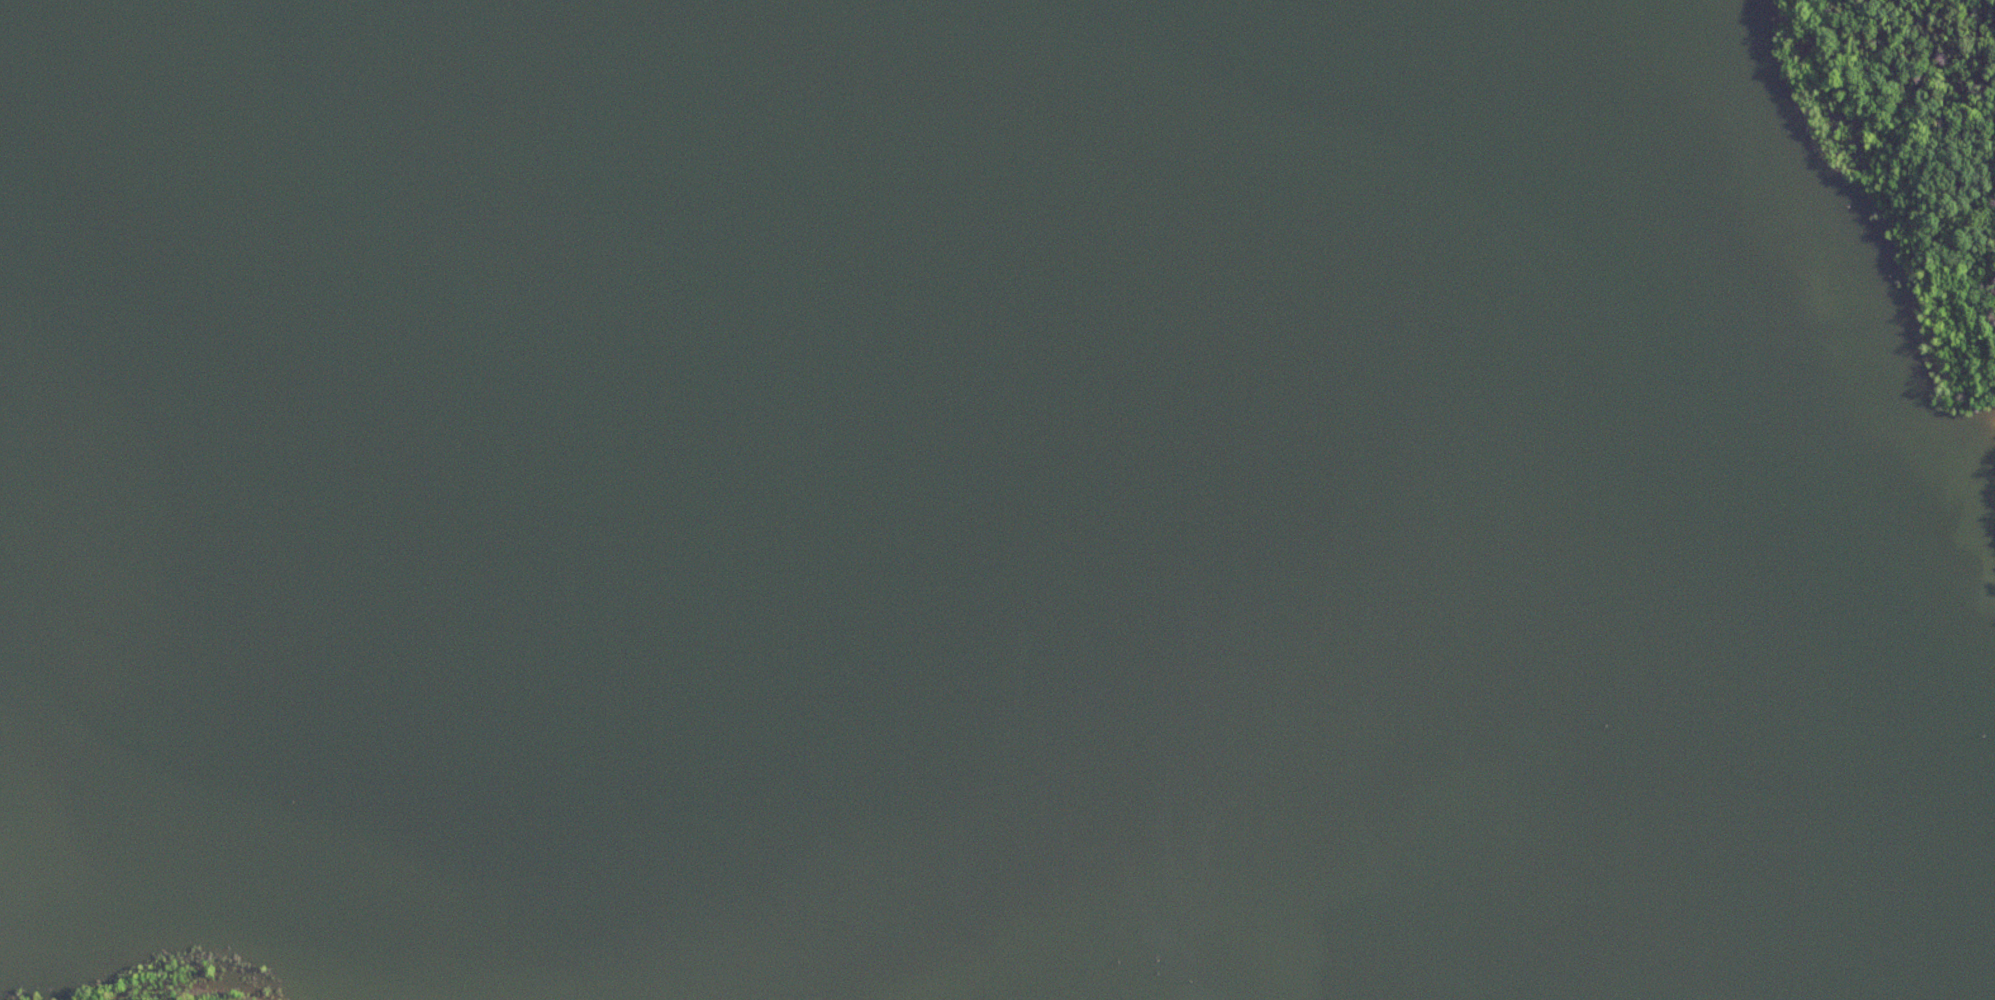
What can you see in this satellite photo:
road: (1982, 429)

